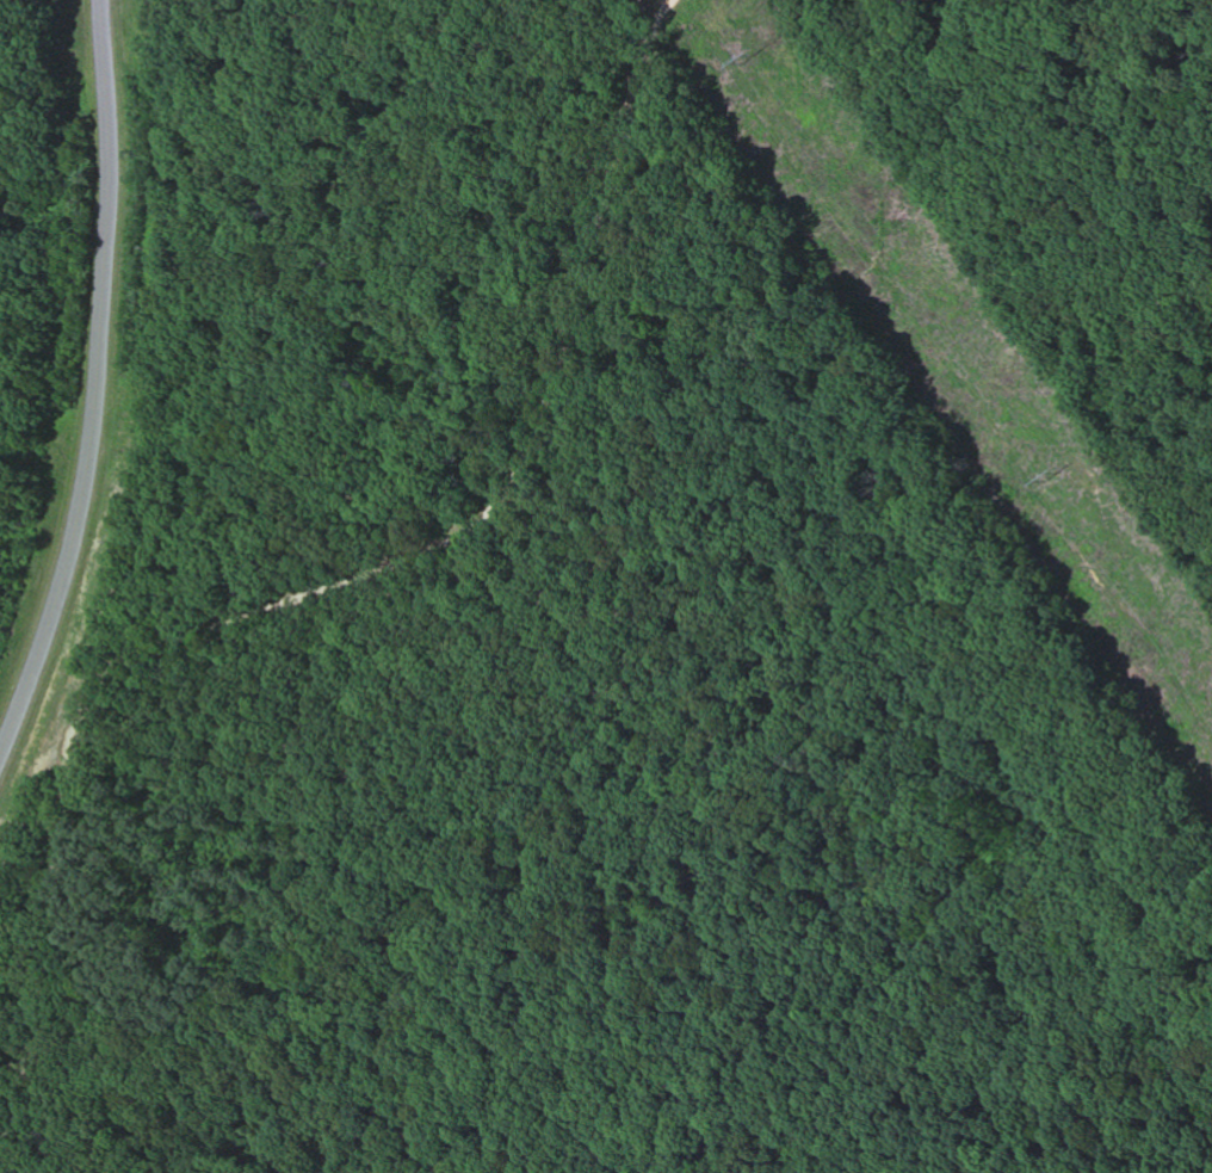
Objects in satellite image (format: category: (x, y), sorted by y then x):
road: (99, 384)
road: (336, 587)

